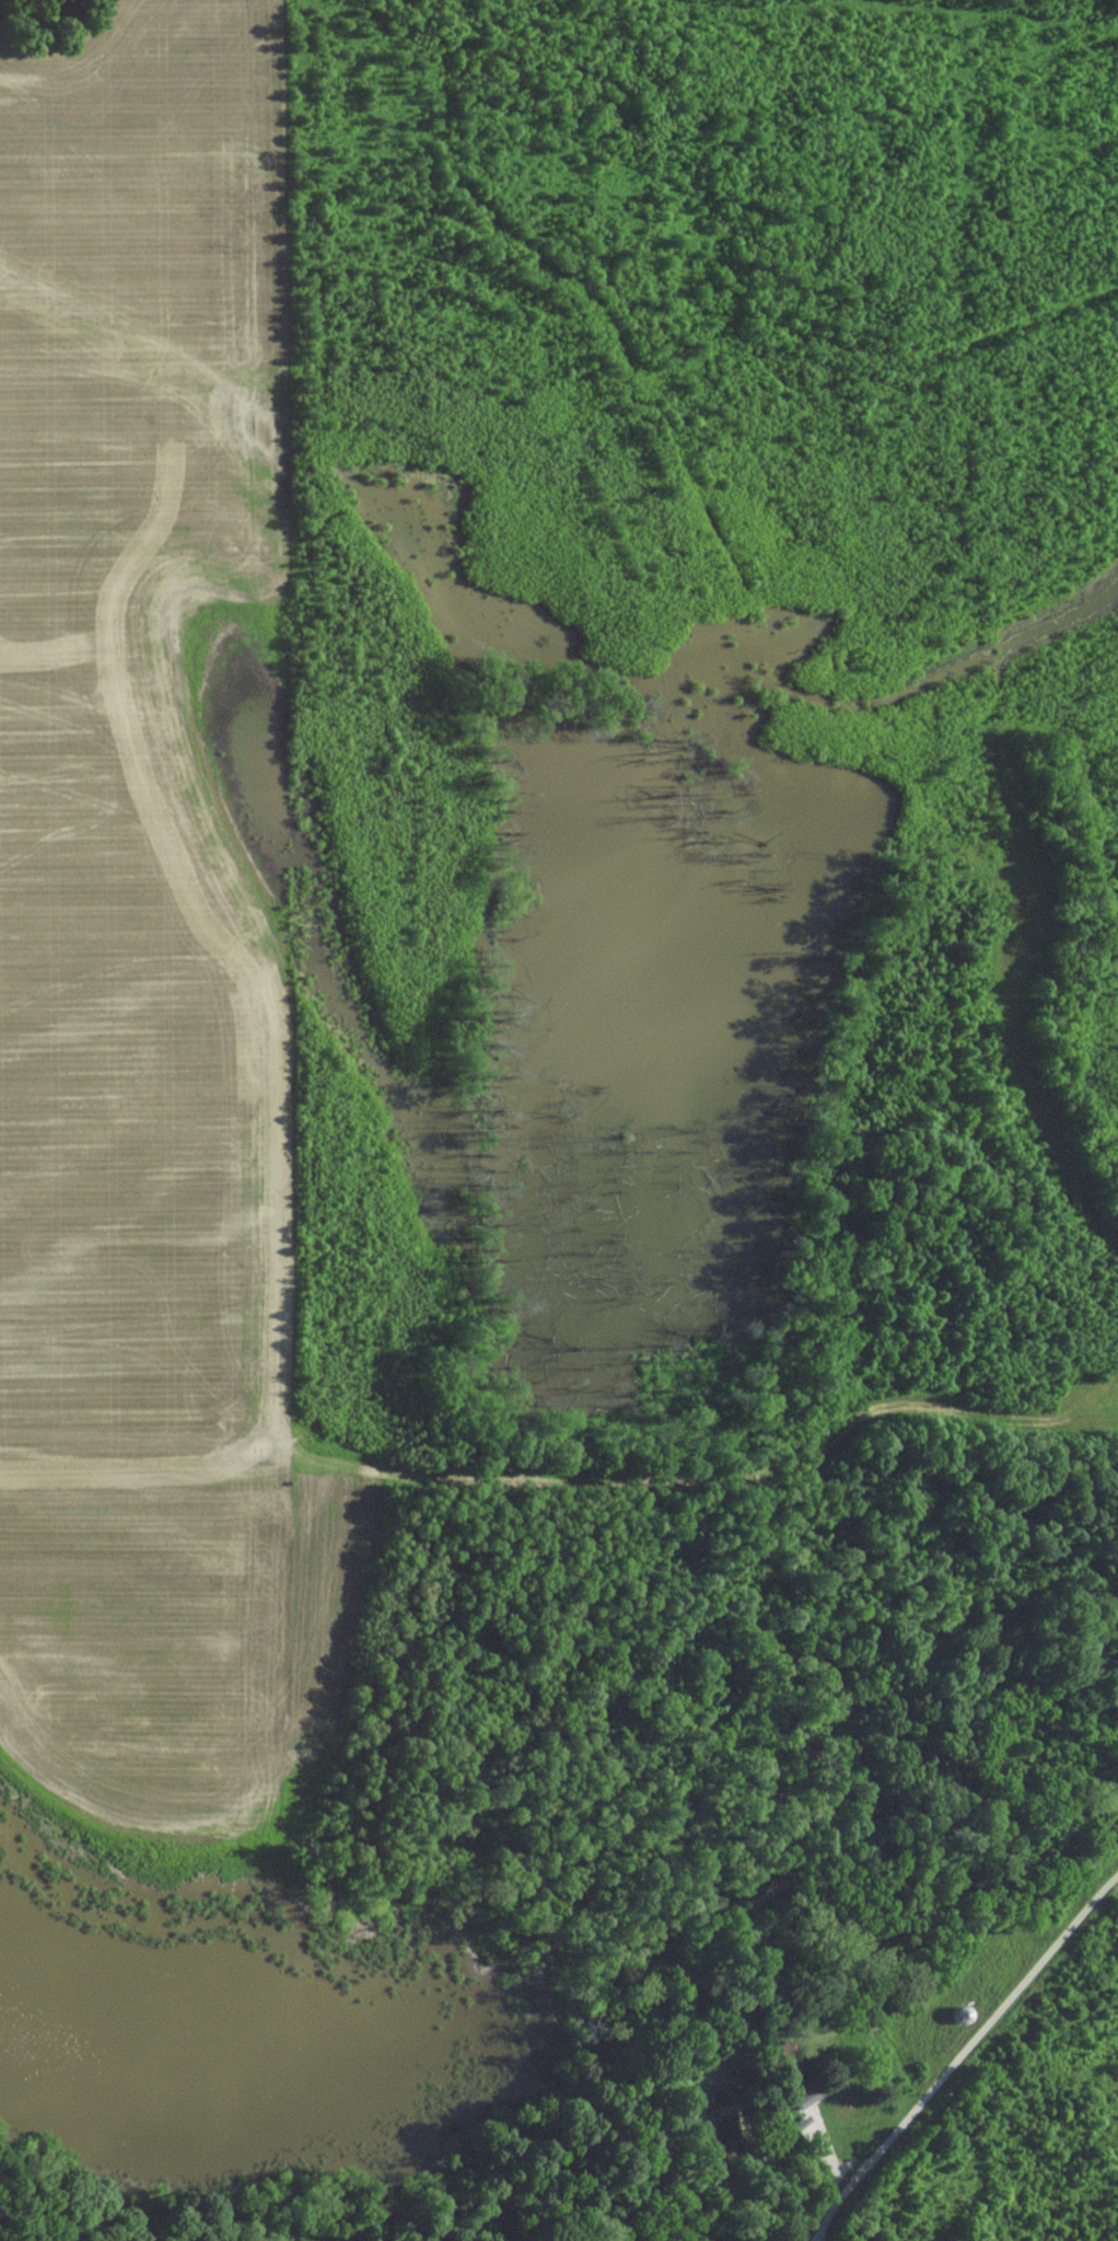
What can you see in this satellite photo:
road: (963, 2057)

